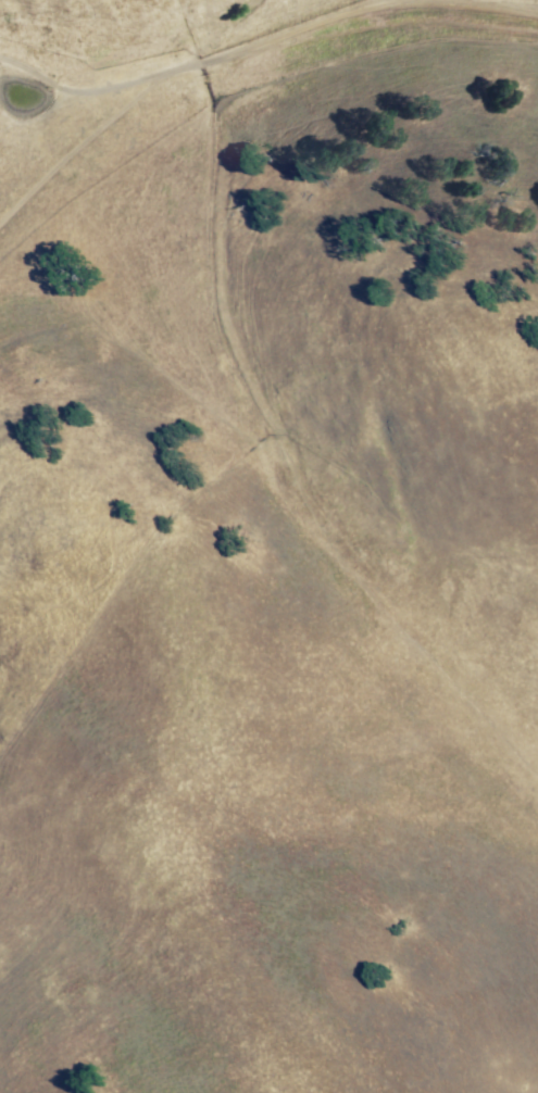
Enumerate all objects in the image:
road: (268, 41)

